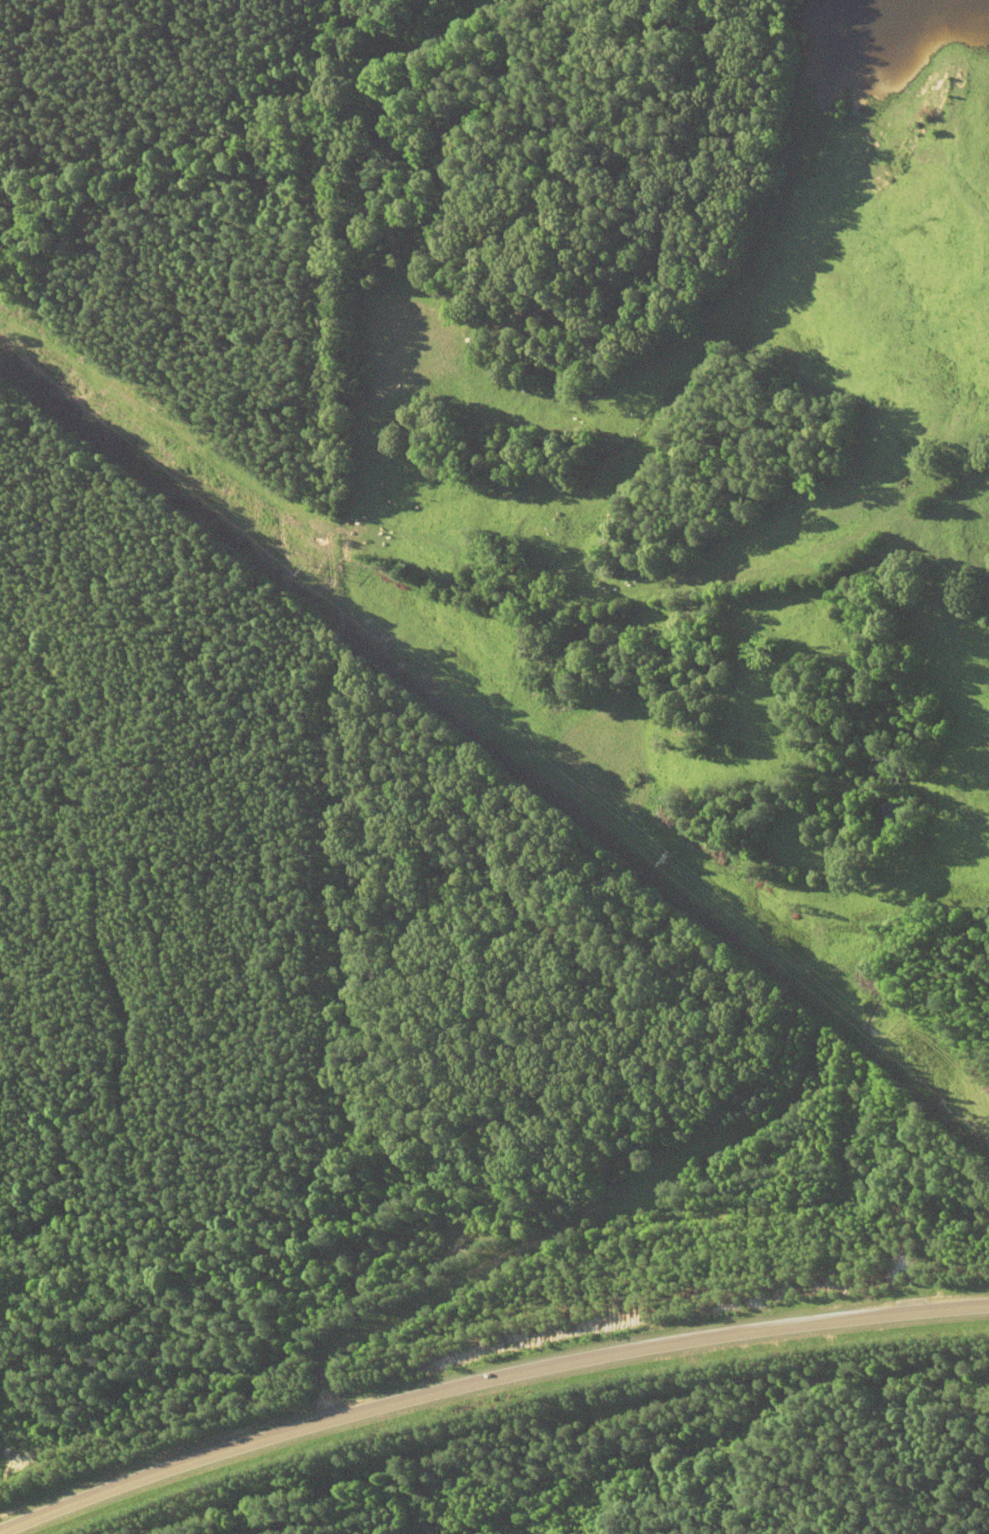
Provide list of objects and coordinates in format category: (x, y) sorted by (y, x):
power tower: (307, 567)
power tower: (667, 862)
road: (486, 1381)

